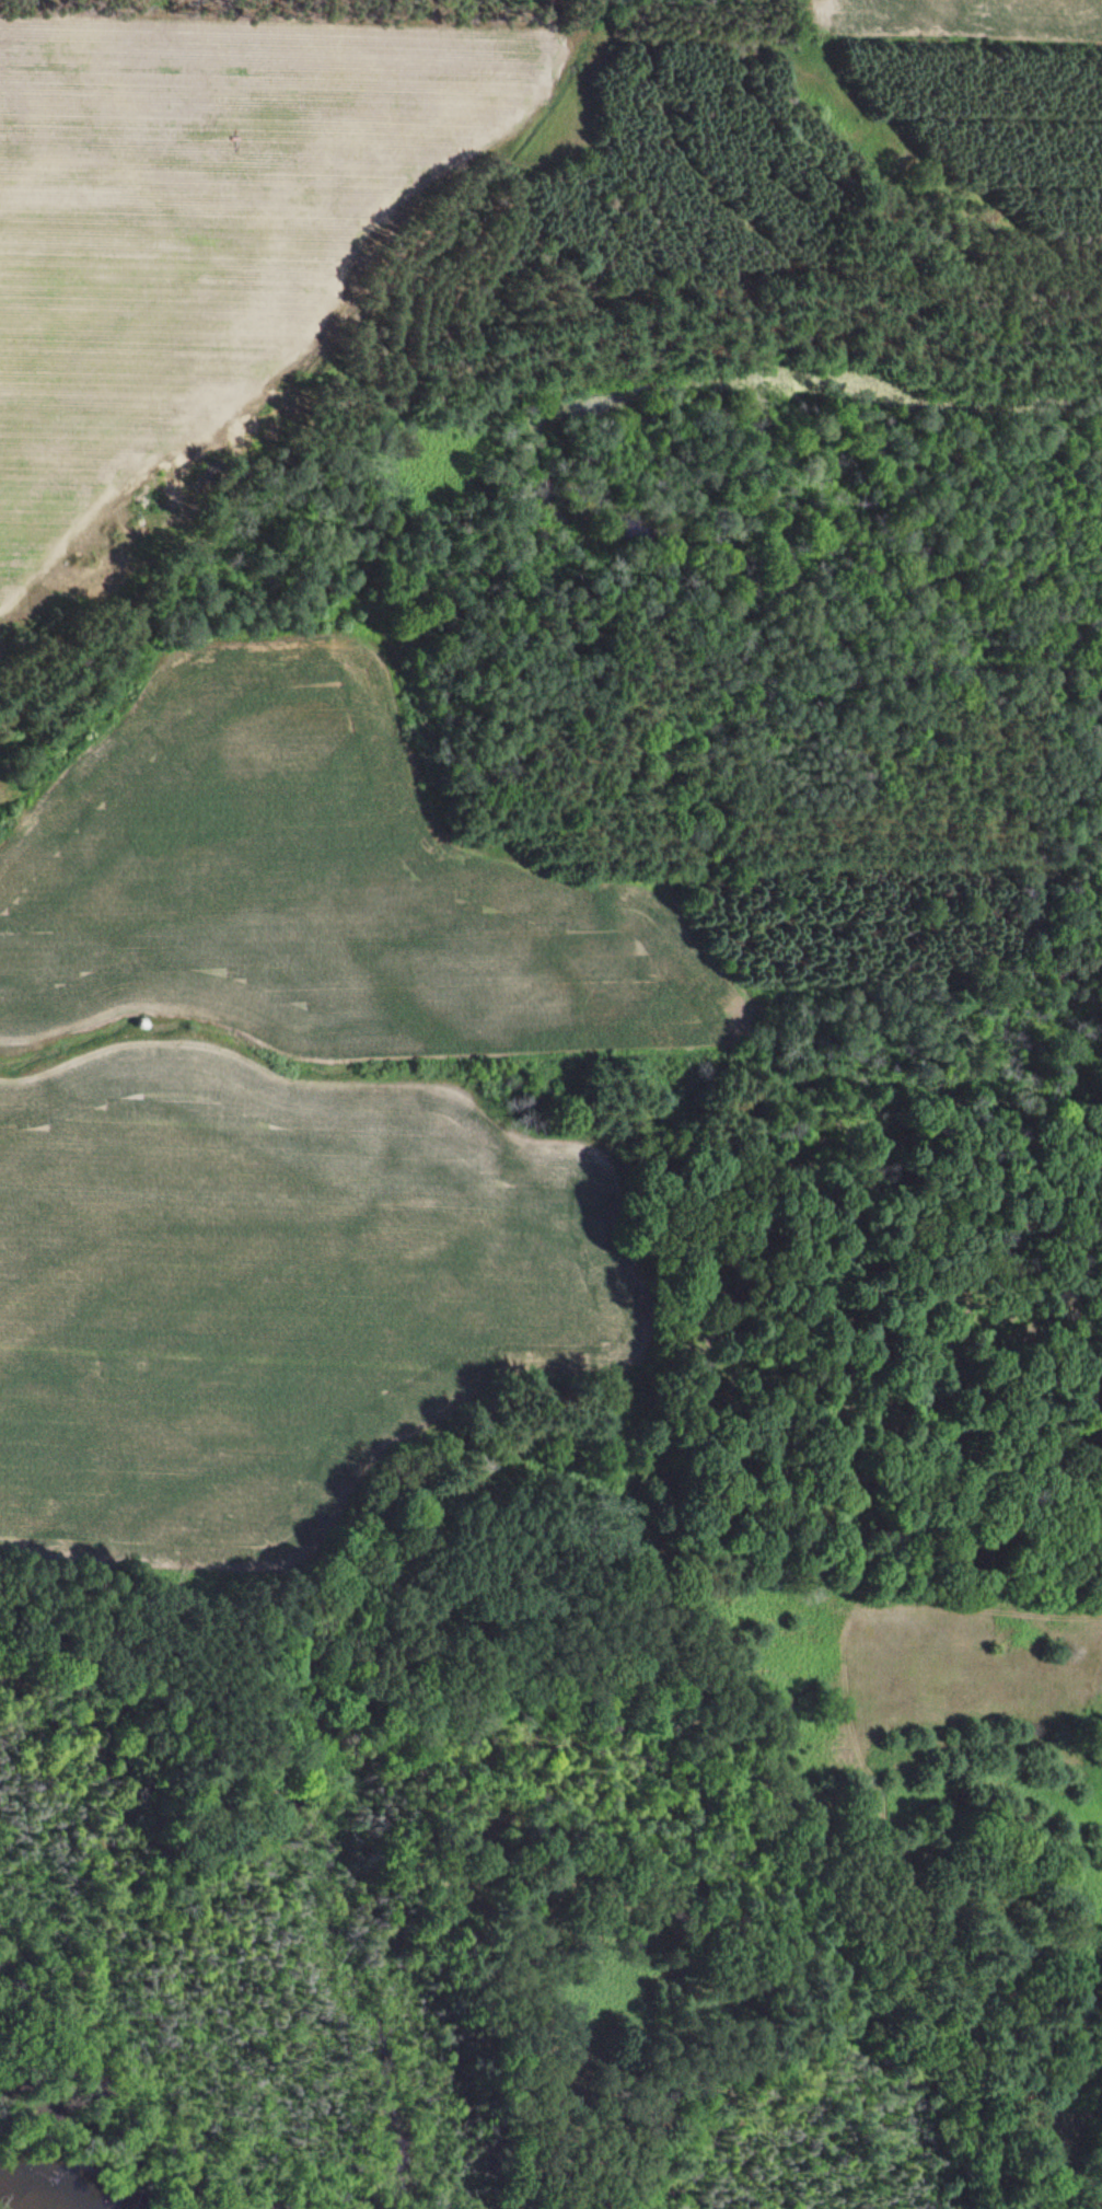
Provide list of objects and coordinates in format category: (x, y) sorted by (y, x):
river: (46, 2196)

